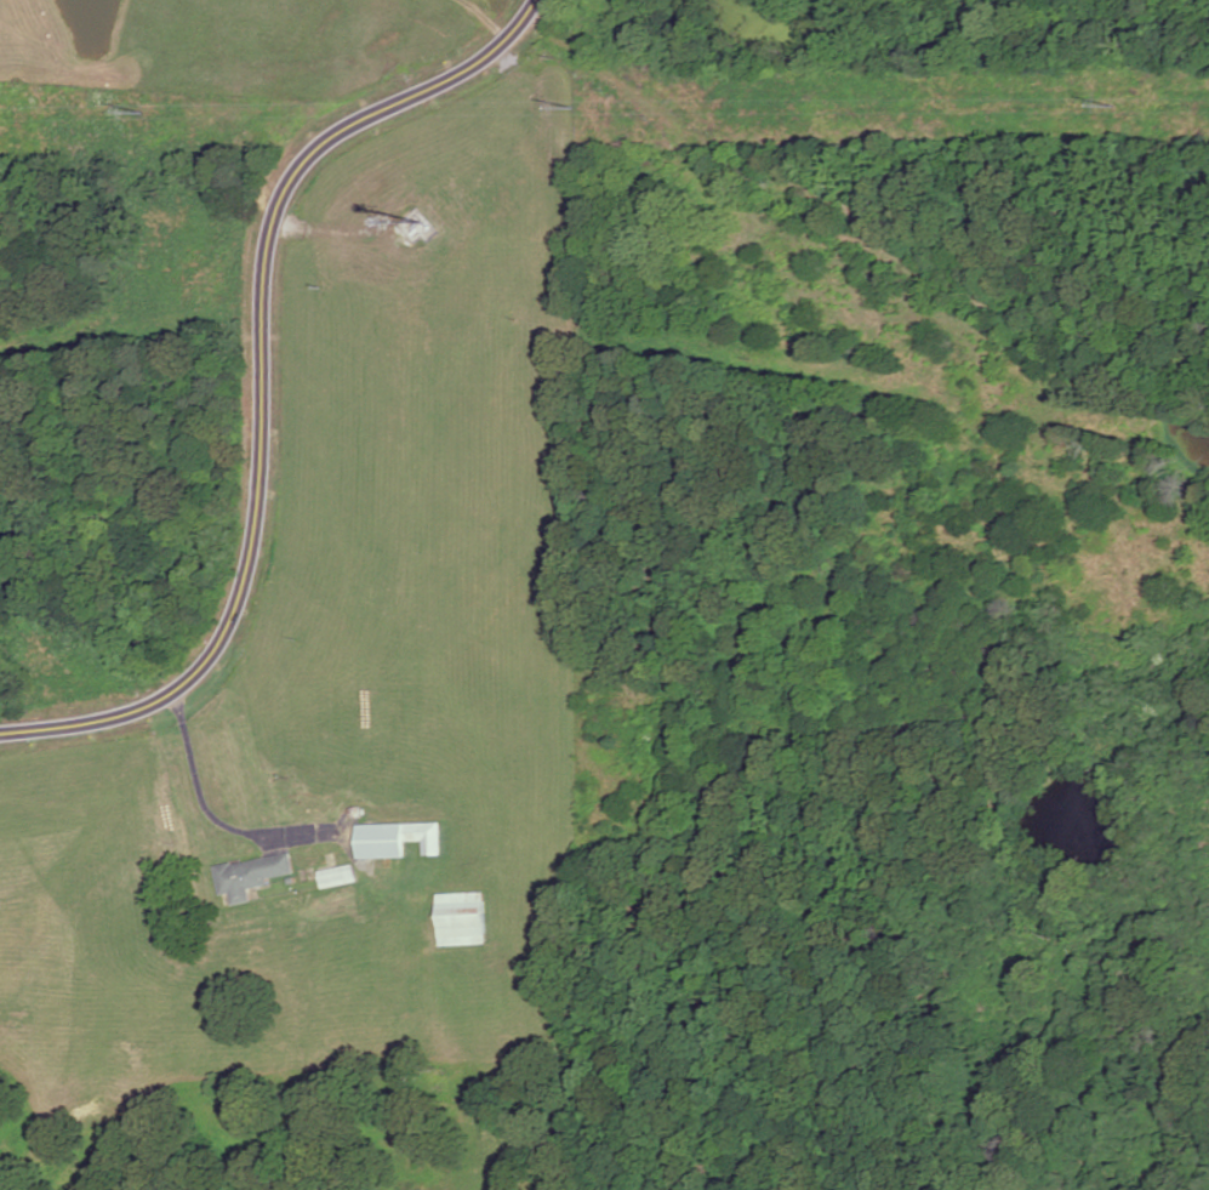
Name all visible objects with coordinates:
road: (481, 18)
road: (333, 233)
road: (262, 381)
road: (215, 819)
building: (423, 837)
building: (381, 841)
building: (253, 876)
building: (337, 876)
building: (461, 919)

